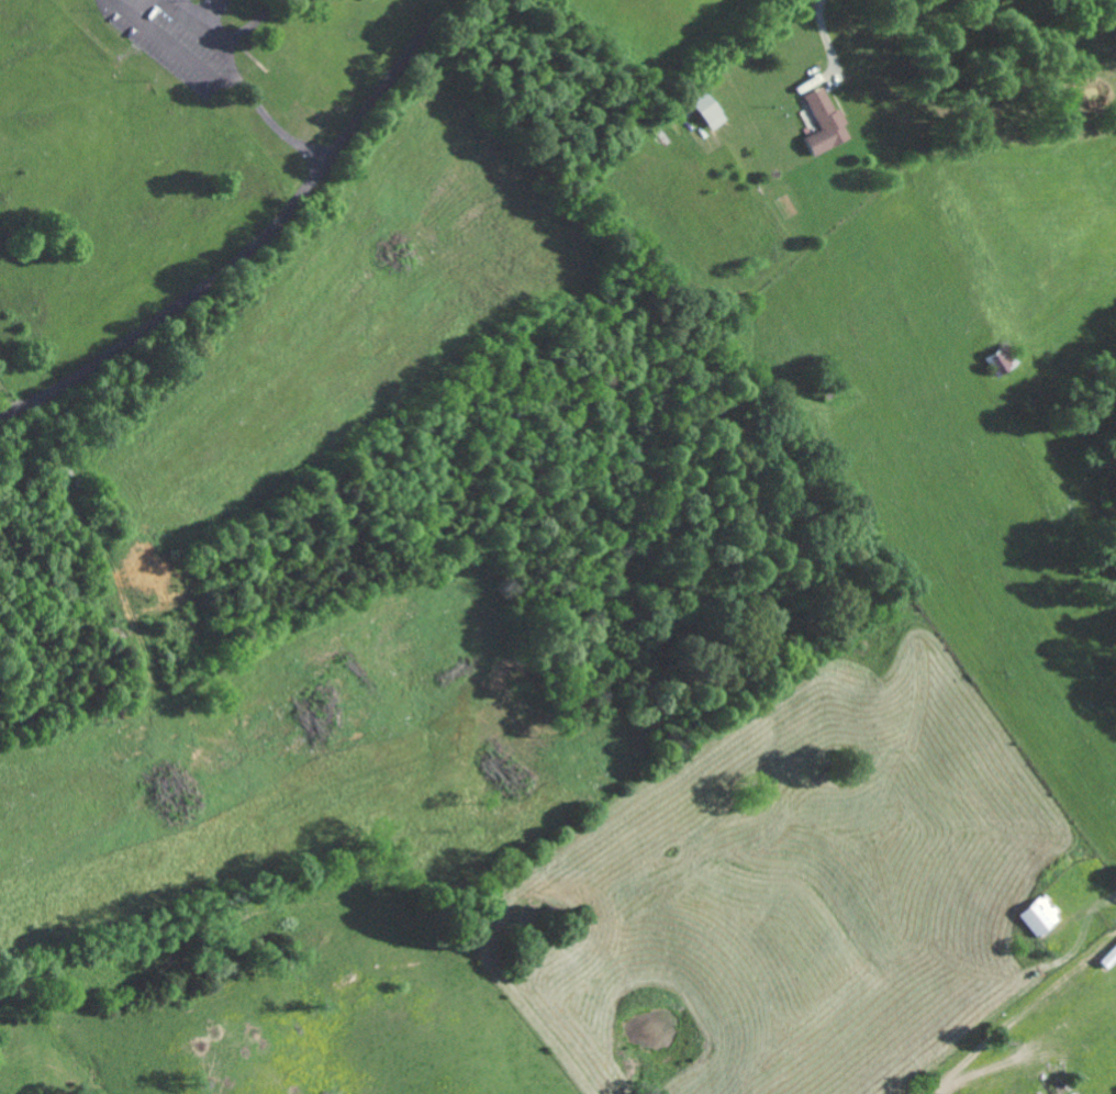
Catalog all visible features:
building: (714, 109)
building: (822, 122)
road: (257, 244)
building: (1036, 914)

